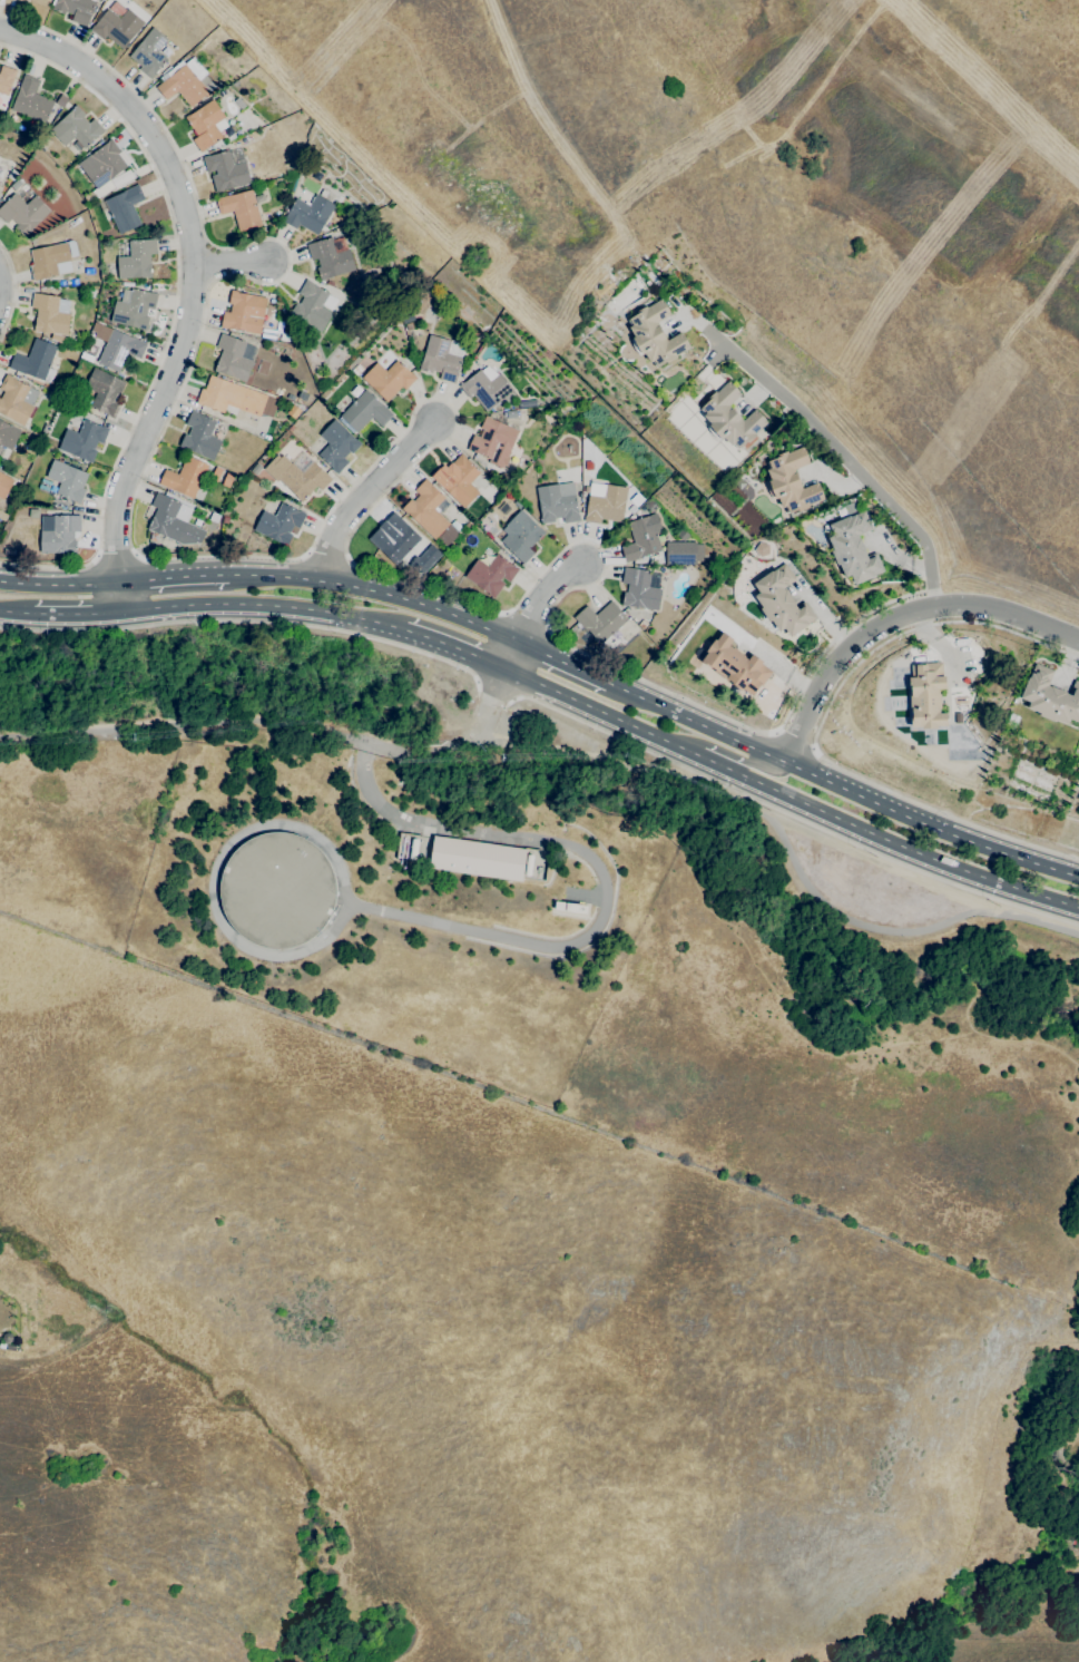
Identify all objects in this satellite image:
building: (21, 0)
building: (75, 9)
building: (117, 27)
building: (148, 52)
building: (6, 78)
building: (184, 85)
building: (31, 100)
building: (61, 100)
building: (206, 125)
building: (76, 128)
building: (101, 169)
building: (226, 172)
building: (11, 174)
building: (120, 179)
building: (16, 185)
building: (125, 208)
building: (239, 208)
building: (307, 212)
building: (22, 213)
building: (277, 214)
building: (82, 241)
building: (71, 250)
building: (330, 257)
building: (136, 260)
building: (49, 262)
road: (233, 264)
building: (72, 282)
road: (0, 283)
building: (60, 283)
road: (192, 283)
building: (330, 283)
road: (16, 290)
building: (313, 305)
building: (134, 309)
building: (50, 313)
building: (244, 313)
road: (177, 315)
building: (406, 317)
building: (408, 325)
building: (655, 334)
building: (283, 336)
building: (116, 346)
building: (232, 358)
building: (442, 358)
building: (33, 360)
building: (356, 370)
building: (388, 379)
building: (485, 388)
building: (105, 392)
building: (234, 397)
building: (16, 399)
building: (527, 403)
building: (363, 412)
building: (511, 414)
building: (730, 417)
road: (403, 427)
building: (7, 434)
building: (200, 436)
building: (82, 440)
building: (493, 441)
building: (336, 446)
road: (837, 449)
building: (255, 468)
building: (297, 476)
building: (185, 477)
building: (67, 480)
building: (460, 480)
building: (791, 481)
building: (479, 482)
building: (4, 485)
building: (45, 485)
road: (371, 497)
building: (557, 502)
building: (605, 502)
building: (23, 509)
building: (428, 509)
building: (631, 509)
building: (214, 517)
building: (225, 519)
building: (174, 521)
building: (279, 524)
building: (59, 534)
building: (445, 535)
building: (521, 535)
building: (681, 535)
building: (398, 538)
building: (640, 539)
building: (852, 545)
building: (762, 549)
building: (9, 550)
building: (680, 553)
road: (116, 556)
building: (490, 574)
road: (171, 578)
road: (58, 580)
building: (640, 588)
road: (375, 594)
building: (781, 602)
road: (261, 607)
road: (536, 608)
road: (17, 612)
road: (75, 613)
road: (896, 616)
building: (600, 620)
road: (249, 622)
building: (643, 624)
road: (455, 651)
road: (562, 663)
building: (735, 665)
building: (926, 695)
building: (1050, 696)
road: (490, 701)
road: (818, 726)
road: (794, 737)
road: (455, 741)
road: (717, 749)
road: (573, 753)
road: (840, 785)
road: (791, 794)
road: (787, 813)
road: (220, 860)
building: (458, 866)
road: (610, 877)
building: (277, 890)
water tower: (277, 891)
road: (1063, 1431)

